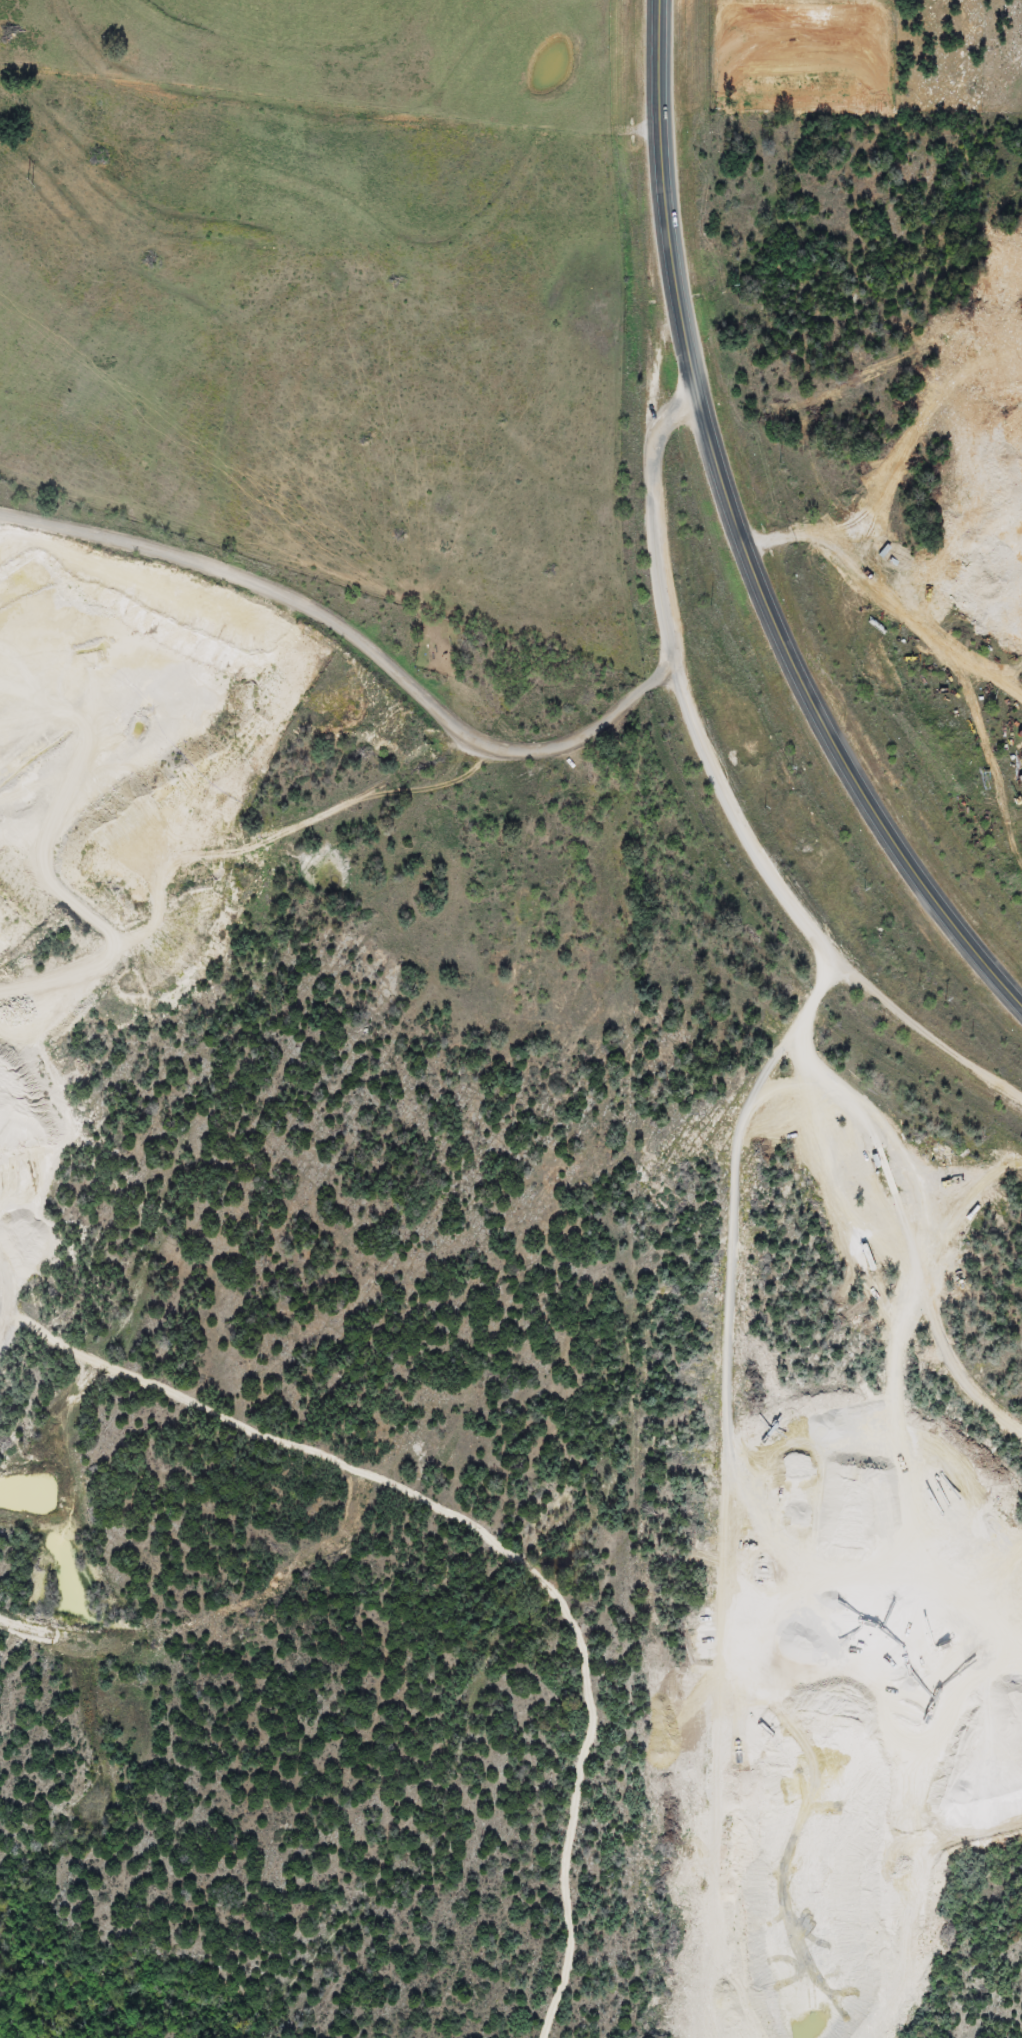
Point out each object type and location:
road: (738, 538)
road: (486, 774)
road: (72, 904)
road: (853, 1122)
road: (827, 1774)

